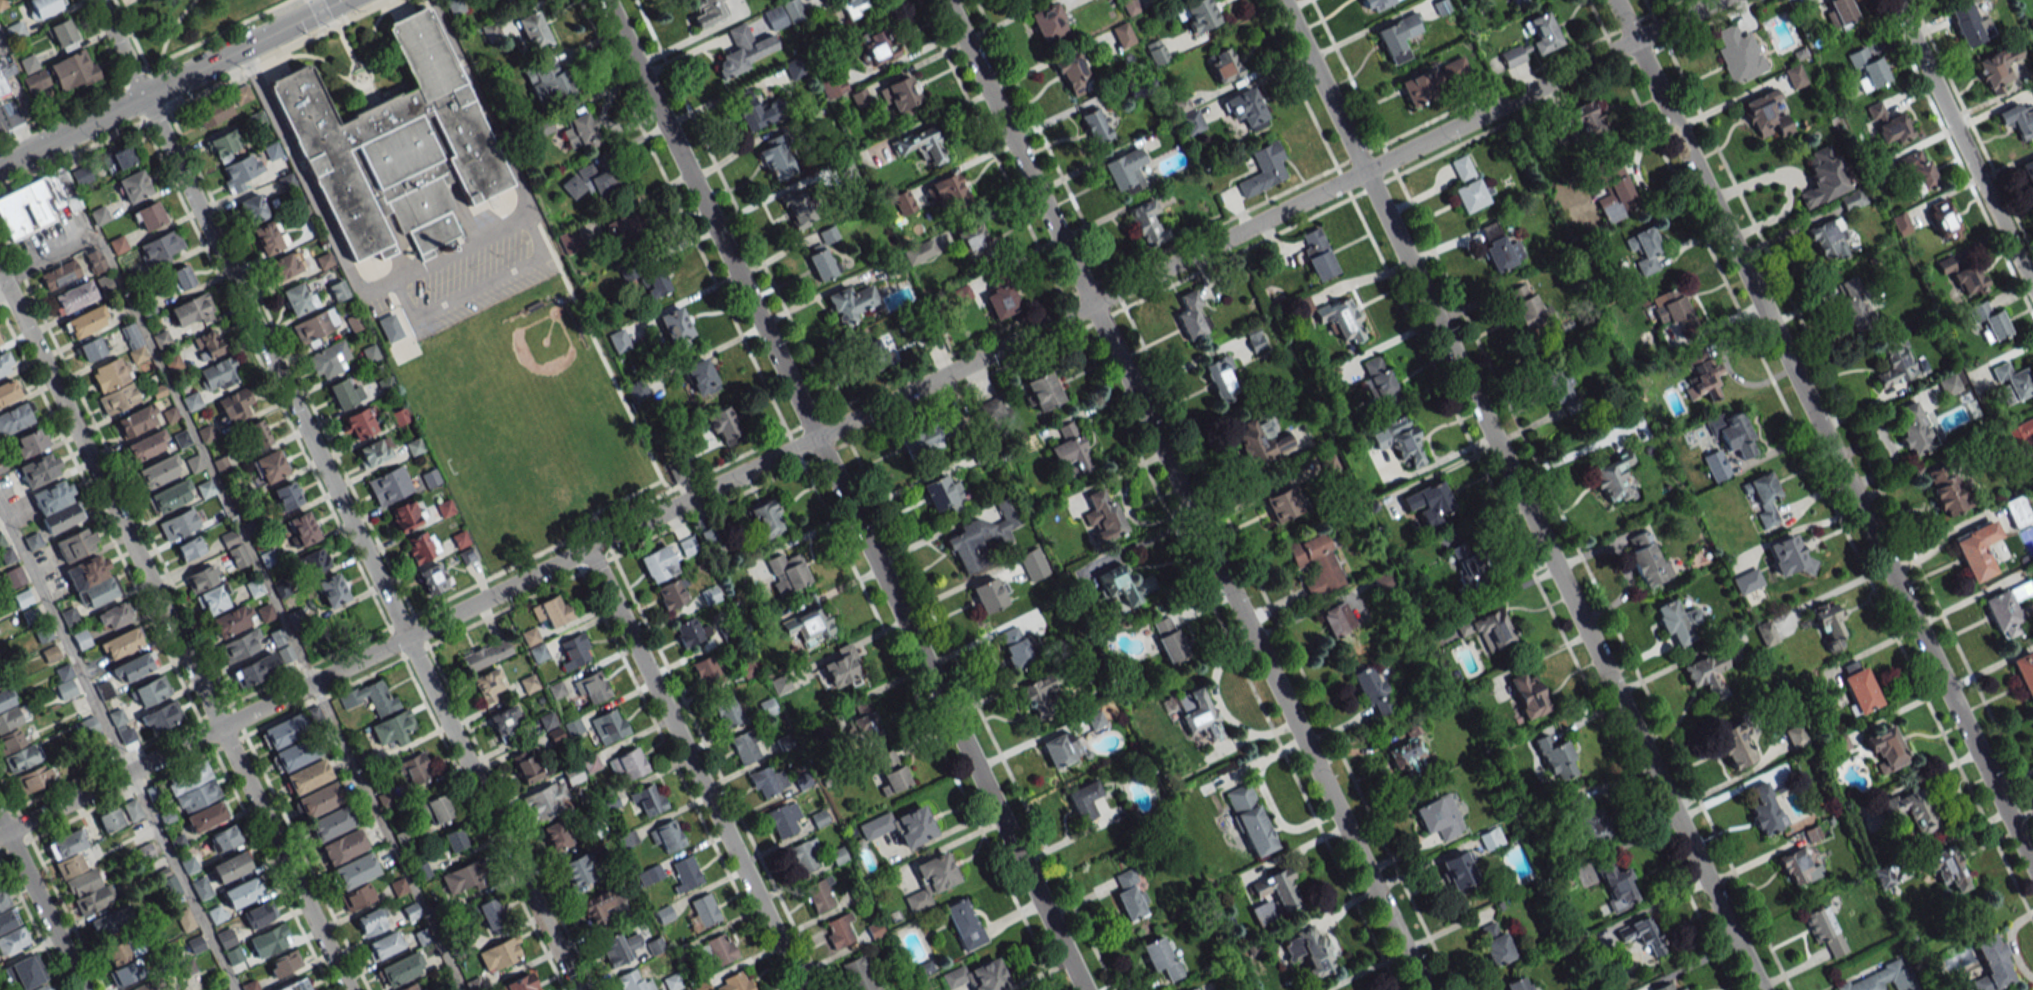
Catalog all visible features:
building: (1525, 2)
building: (3, 4)
building: (1377, 5)
building: (42, 7)
building: (856, 7)
building: (708, 12)
building: (1840, 13)
road: (319, 14)
building: (783, 14)
building: (1198, 15)
building: (1049, 22)
building: (1968, 26)
building: (532, 29)
building: (15, 30)
building: (62, 32)
road: (215, 33)
building: (1122, 35)
building: (1543, 36)
building: (1397, 39)
road: (2, 45)
building: (878, 45)
road: (120, 48)
road: (242, 48)
building: (745, 50)
building: (1156, 52)
road: (273, 53)
building: (1736, 54)
building: (1513, 57)
building: (1223, 65)
building: (794, 68)
building: (1996, 68)
building: (1867, 69)
building: (73, 70)
road: (133, 71)
building: (32, 73)
building: (1074, 75)
building: (6, 76)
building: (1795, 76)
building: (548, 81)
building: (833, 86)
building: (2032, 90)
building: (1420, 92)
building: (241, 94)
building: (901, 97)
road: (60, 107)
building: (1246, 109)
building: (755, 111)
building: (214, 112)
road: (153, 114)
building: (1765, 115)
building: (2018, 119)
building: (1192, 122)
building: (1586, 122)
building: (1095, 125)
building: (1888, 125)
road: (72, 130)
building: (578, 130)
building: (224, 143)
building: (921, 145)
building: (393, 147)
road: (1962, 149)
building: (271, 151)
road: (71, 153)
building: (121, 157)
building: (777, 158)
building: (1462, 167)
building: (1124, 170)
building: (1264, 170)
building: (1917, 170)
building: (2028, 171)
building: (239, 172)
building: (1823, 177)
building: (590, 183)
building: (133, 186)
building: (1611, 191)
building: (948, 192)
building: (1471, 195)
building: (1853, 199)
building: (903, 202)
building: (35, 204)
building: (253, 208)
building: (796, 209)
building: (99, 215)
building: (149, 216)
building: (1943, 220)
building: (1147, 223)
building: (1901, 223)
building: (623, 227)
building: (268, 237)
building: (1827, 238)
building: (974, 241)
building: (570, 244)
building: (1499, 247)
building: (160, 248)
building: (1645, 250)
building: (1317, 254)
building: (93, 256)
building: (822, 263)
building: (285, 265)
building: (627, 274)
building: (59, 275)
building: (181, 278)
building: (1970, 281)
building: (654, 283)
road: (4, 294)
building: (73, 297)
building: (298, 298)
road: (444, 301)
building: (1001, 301)
building: (851, 302)
building: (1855, 306)
building: (1671, 307)
building: (1528, 308)
building: (191, 310)
building: (1191, 316)
building: (1341, 319)
building: (84, 322)
building: (1990, 322)
building: (674, 325)
building: (314, 326)
building: (389, 327)
building: (130, 335)
building: (1254, 339)
building: (619, 340)
building: (0, 343)
building: (208, 344)
building: (90, 349)
building: (874, 353)
building: (328, 360)
building: (1895, 361)
building: (5, 363)
building: (218, 374)
building: (1703, 375)
building: (701, 376)
building: (1220, 378)
building: (2012, 382)
building: (1379, 383)
building: (113, 385)
building: (1559, 385)
building: (9, 391)
building: (1044, 391)
building: (345, 393)
building: (191, 401)
building: (235, 405)
road: (857, 417)
building: (16, 418)
building: (136, 420)
building: (359, 423)
building: (723, 426)
road: (1823, 430)
building: (1914, 430)
building: (2021, 431)
building: (258, 433)
building: (1736, 435)
building: (920, 439)
building: (1399, 440)
building: (1261, 442)
building: (29, 443)
building: (146, 445)
building: (1071, 451)
building: (374, 452)
building: (2, 465)
building: (1716, 465)
building: (269, 466)
building: (39, 470)
building: (157, 472)
building: (1614, 480)
building: (389, 485)
building: (1946, 489)
building: (943, 494)
building: (286, 495)
road: (843, 495)
road: (1184, 495)
road: (1521, 495)
building: (167, 498)
building: (1765, 498)
building: (1428, 503)
building: (1282, 504)
building: (56, 506)
building: (2017, 511)
building: (405, 516)
building: (1103, 516)
building: (766, 519)
building: (177, 525)
building: (301, 529)
building: (982, 537)
building: (459, 539)
road: (1142, 541)
building: (31, 542)
road: (360, 543)
building: (76, 544)
building: (422, 546)
building: (687, 546)
building: (190, 548)
building: (234, 549)
building: (1976, 550)
building: (467, 556)
building: (1788, 556)
building: (1647, 559)
building: (315, 561)
building: (1467, 562)
road: (256, 564)
building: (658, 564)
building: (1033, 564)
building: (1316, 564)
building: (787, 573)
building: (14, 577)
building: (202, 578)
building: (434, 578)
building: (92, 580)
building: (1747, 581)
building: (1124, 584)
building: (331, 590)
building: (673, 593)
building: (989, 594)
building: (709, 595)
building: (212, 600)
building: (553, 610)
building: (2007, 610)
building: (114, 616)
building: (1337, 619)
building: (232, 620)
building: (1677, 623)
building: (1828, 623)
building: (809, 626)
building: (1488, 629)
road: (173, 632)
building: (690, 632)
building: (1767, 633)
building: (530, 636)
building: (81, 639)
building: (1169, 639)
building: (120, 643)
building: (241, 646)
building: (1014, 647)
building: (575, 651)
building: (538, 652)
building: (486, 654)
building: (133, 667)
building: (840, 669)
building: (255, 670)
building: (707, 672)
building: (1708, 673)
building: (2025, 673)
building: (529, 683)
building: (487, 685)
building: (591, 687)
building: (1859, 688)
building: (150, 691)
building: (1372, 691)
building: (1528, 695)
building: (374, 696)
building: (1037, 697)
building: (8, 711)
building: (727, 712)
building: (1198, 713)
building: (161, 716)
building: (548, 720)
building: (1095, 720)
building: (503, 723)
building: (866, 723)
building: (609, 725)
building: (572, 726)
building: (393, 728)
building: (284, 731)
building: (1796, 736)
building: (1734, 745)
road: (118, 747)
building: (745, 747)
building: (1059, 749)
building: (1885, 749)
building: (16, 752)
building: (295, 754)
building: (1408, 757)
building: (1556, 758)
building: (628, 764)
building: (528, 766)
building: (414, 769)
road: (694, 770)
building: (891, 772)
building: (308, 776)
building: (32, 779)
building: (767, 782)
building: (192, 787)
building: (318, 800)
building: (647, 800)
building: (546, 801)
building: (1084, 801)
building: (437, 809)
building: (132, 810)
building: (1764, 810)
building: (1911, 810)
building: (206, 816)
building: (1439, 817)
building: (783, 819)
building: (1588, 819)
building: (111, 820)
building: (1250, 820)
building: (330, 823)
building: (901, 826)
building: (373, 832)
building: (556, 835)
building: (666, 836)
building: (223, 839)
building: (1491, 839)
building: (453, 840)
building: (177, 842)
building: (343, 847)
building: (147, 852)
building: (803, 855)
building: (189, 864)
building: (230, 867)
building: (1798, 868)
building: (1946, 868)
building: (353, 871)
building: (576, 871)
building: (1459, 871)
building: (78, 873)
building: (686, 874)
building: (1882, 877)
building: (462, 878)
building: (931, 879)
building: (167, 882)
building: (1616, 885)
building: (201, 888)
building: (1278, 890)
building: (243, 891)
building: (819, 894)
building: (1129, 895)
building: (356, 897)
building: (601, 904)
road: (40, 906)
building: (703, 912)
building: (259, 914)
building: (491, 914)
building: (6, 918)
building: (116, 919)
building: (184, 919)
building: (371, 922)
building: (964, 924)
building: (838, 930)
building: (1824, 930)
building: (1642, 937)
building: (225, 938)
building: (13, 940)
building: (268, 940)
building: (195, 944)
building: (1495, 944)
building: (383, 945)
building: (619, 948)
building: (719, 949)
building: (122, 951)
building: (1309, 951)
building: (502, 954)
building: (233, 955)
building: (1160, 957)
building: (283, 963)
building: (1992, 964)
building: (400, 970)
building: (126, 972)
building: (859, 975)
building: (979, 976)
building: (635, 980)
building: (734, 982)
building: (1868, 982)
building: (520, 984)
building: (1517, 984)
building: (148, 985)
building: (296, 986)
building: (413, 986)
building: (1665, 987)
building: (1682, 988)
building: (1196, 989)

